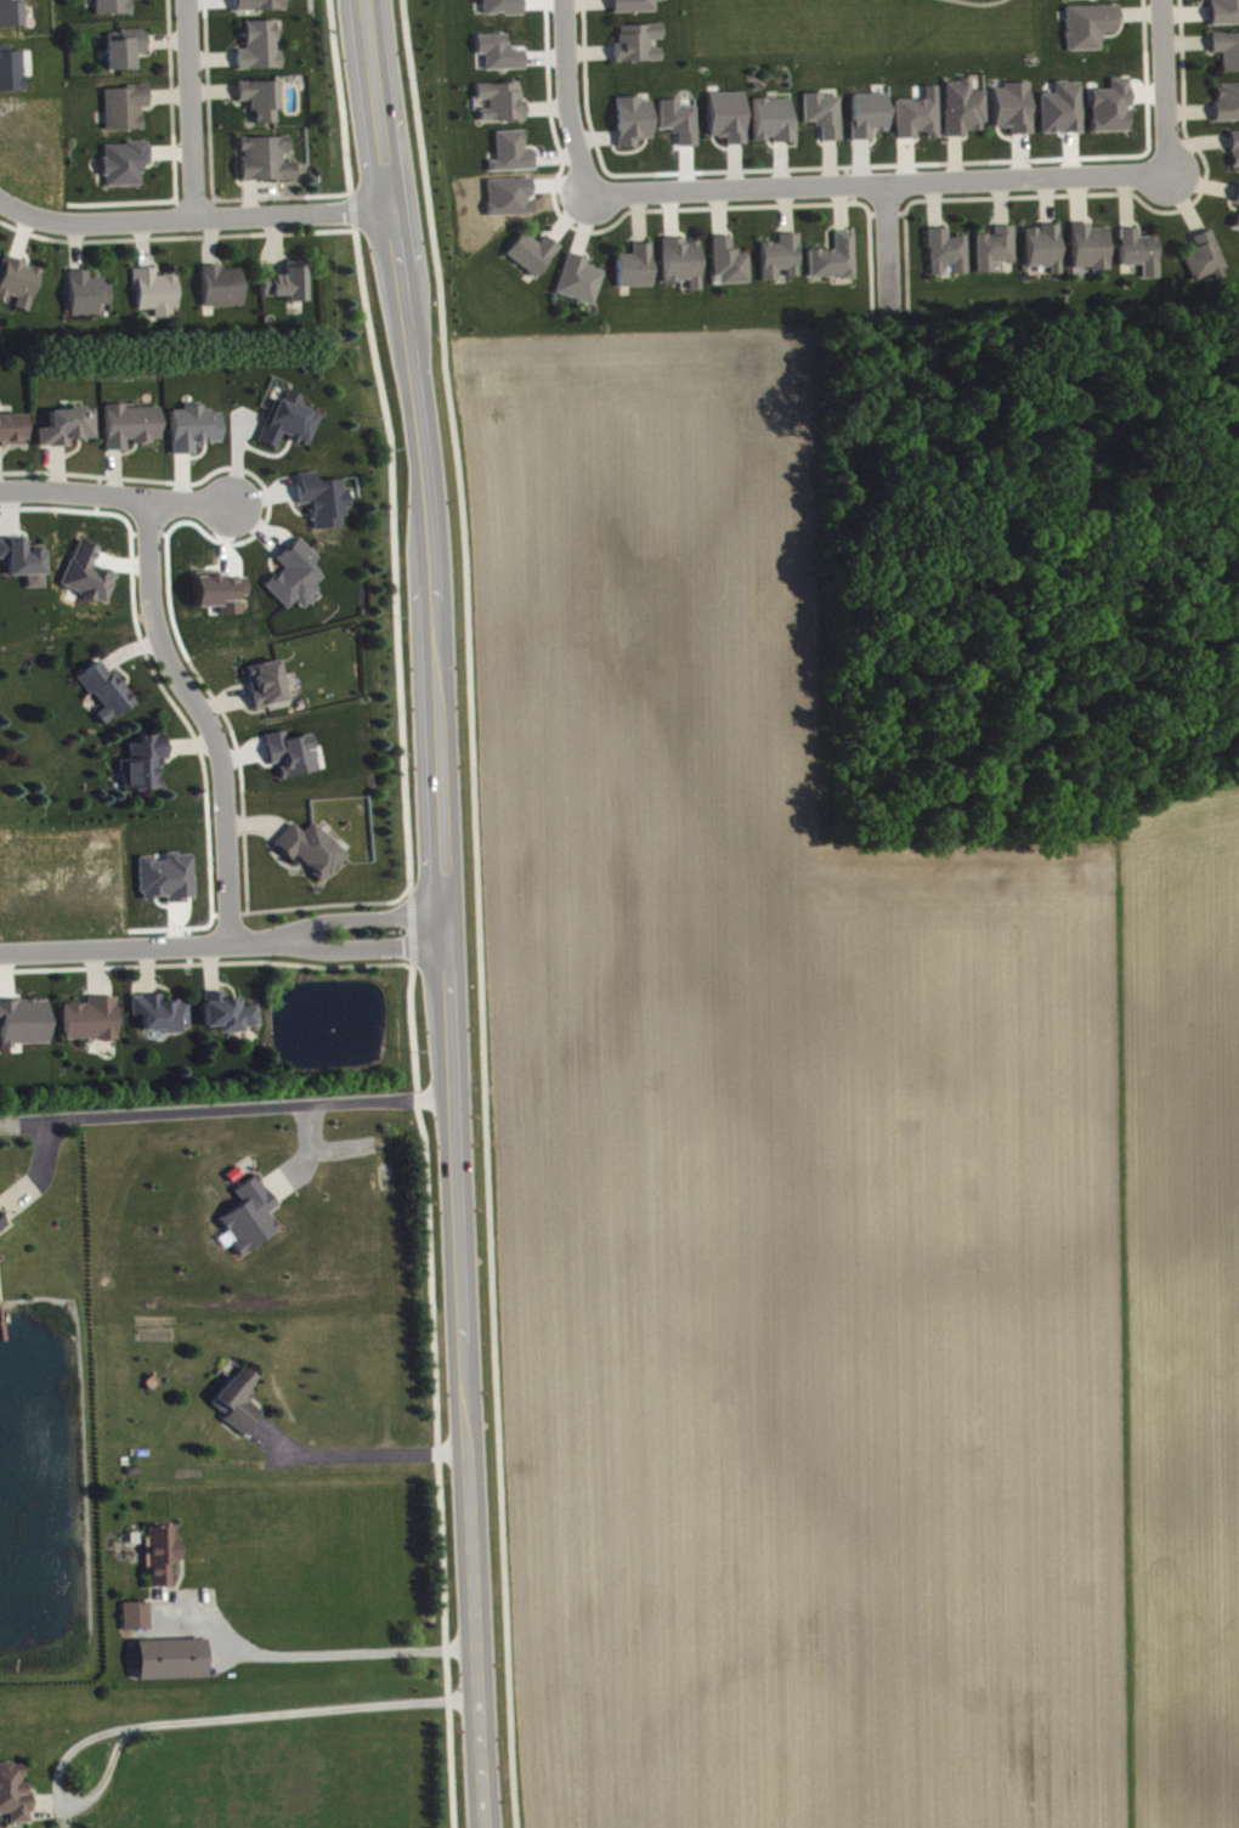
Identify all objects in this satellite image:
building: (1091, 2)
building: (260, 9)
building: (502, 10)
building: (637, 10)
building: (114, 11)
building: (1224, 16)
building: (1090, 34)
building: (639, 50)
building: (261, 55)
building: (126, 56)
building: (1227, 58)
building: (499, 61)
building: (12, 77)
road: (1162, 84)
road: (340, 96)
road: (565, 96)
building: (262, 107)
road: (189, 108)
building: (502, 109)
building: (1227, 109)
building: (126, 115)
building: (1013, 115)
building: (964, 117)
building: (825, 123)
building: (870, 123)
building: (729, 124)
building: (918, 125)
building: (775, 128)
building: (634, 129)
building: (680, 129)
building: (1235, 158)
building: (513, 160)
building: (267, 166)
building: (125, 171)
road: (878, 180)
road: (5, 202)
building: (1238, 205)
road: (352, 208)
road: (199, 215)
building: (1238, 230)
road: (175, 236)
road: (883, 244)
building: (1045, 255)
building: (996, 256)
building: (1091, 256)
building: (947, 260)
building: (1141, 260)
building: (534, 261)
building: (781, 265)
building: (836, 266)
building: (1206, 267)
building: (683, 270)
building: (731, 271)
building: (637, 275)
building: (283, 281)
building: (579, 287)
building: (21, 289)
building: (224, 294)
building: (87, 300)
building: (157, 300)
building: (289, 430)
building: (132, 434)
building: (69, 435)
building: (196, 436)
building: (12, 437)
road: (114, 493)
building: (324, 508)
road: (392, 555)
building: (24, 570)
building: (90, 582)
building: (296, 583)
building: (267, 691)
building: (107, 700)
road: (198, 715)
building: (293, 762)
building: (145, 771)
building: (313, 858)
building: (169, 885)
road: (445, 911)
road: (477, 912)
road: (409, 924)
road: (222, 941)
building: (162, 1021)
building: (228, 1021)
building: (92, 1028)
building: (26, 1030)
road: (248, 1119)
crop: (837, 1168)
building: (251, 1224)
building: (2, 1232)
road: (434, 1393)
building: (238, 1408)
road: (368, 1464)
building: (163, 1563)
building: (137, 1624)
road: (321, 1664)
building: (169, 1668)
road: (189, 1732)
building: (15, 1800)

